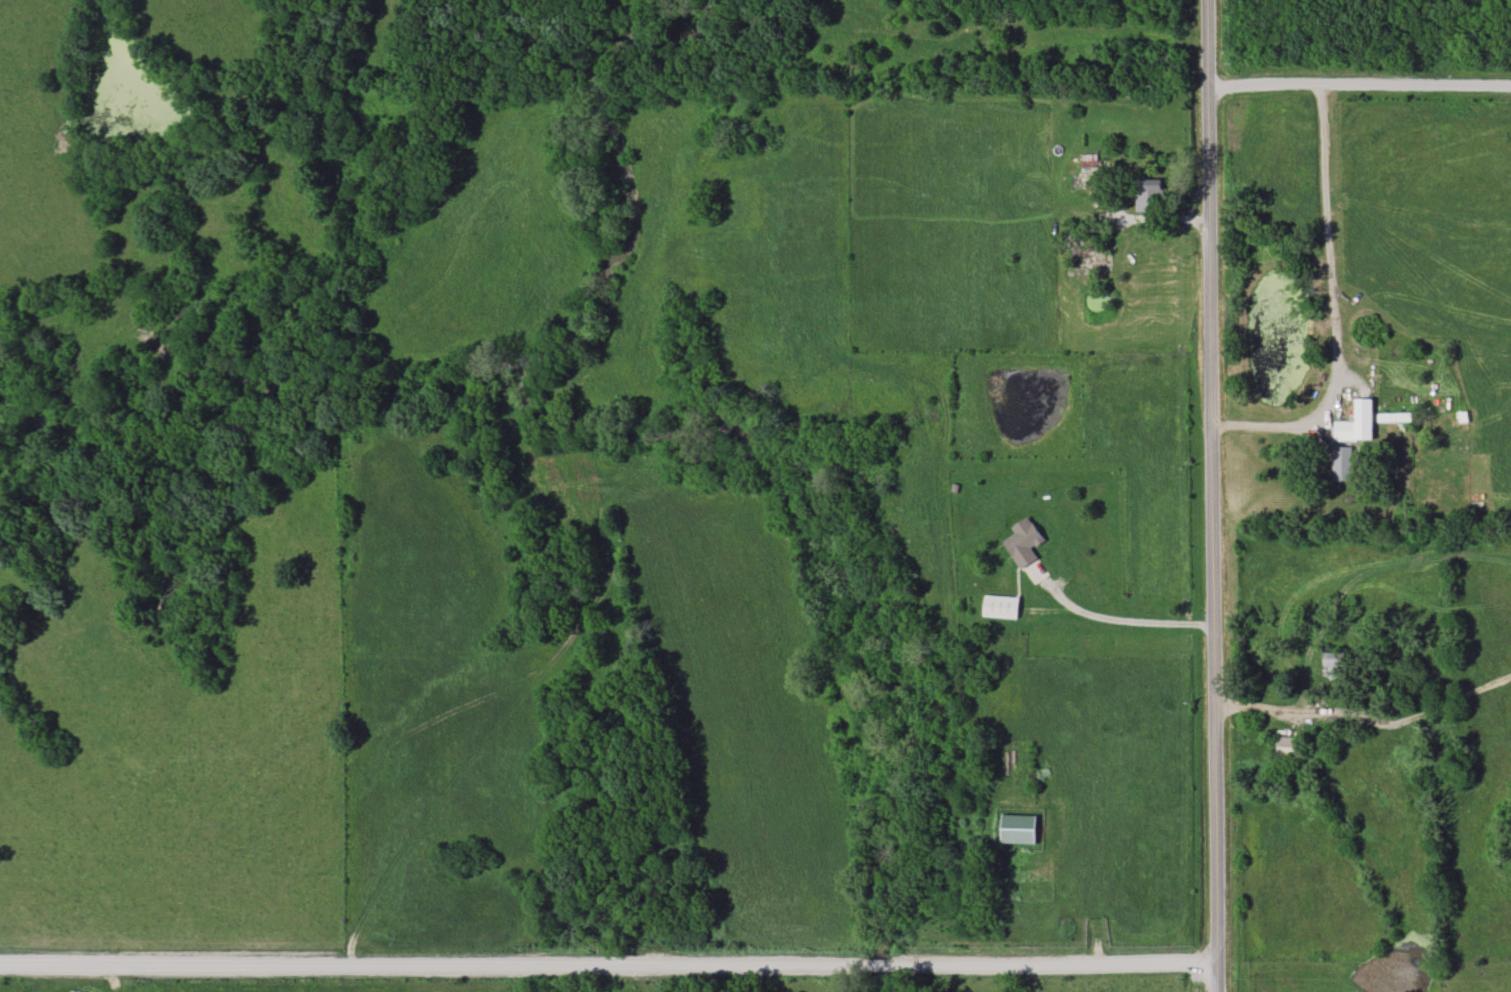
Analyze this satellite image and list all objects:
road: (1359, 83)
building: (1089, 161)
building: (1149, 195)
road: (1331, 305)
building: (1394, 418)
building: (1356, 424)
building: (1341, 464)
road: (1213, 495)
building: (1024, 543)
building: (1000, 607)
road: (1112, 621)
building: (1333, 667)
road: (1280, 710)
building: (1288, 748)
road: (608, 966)

